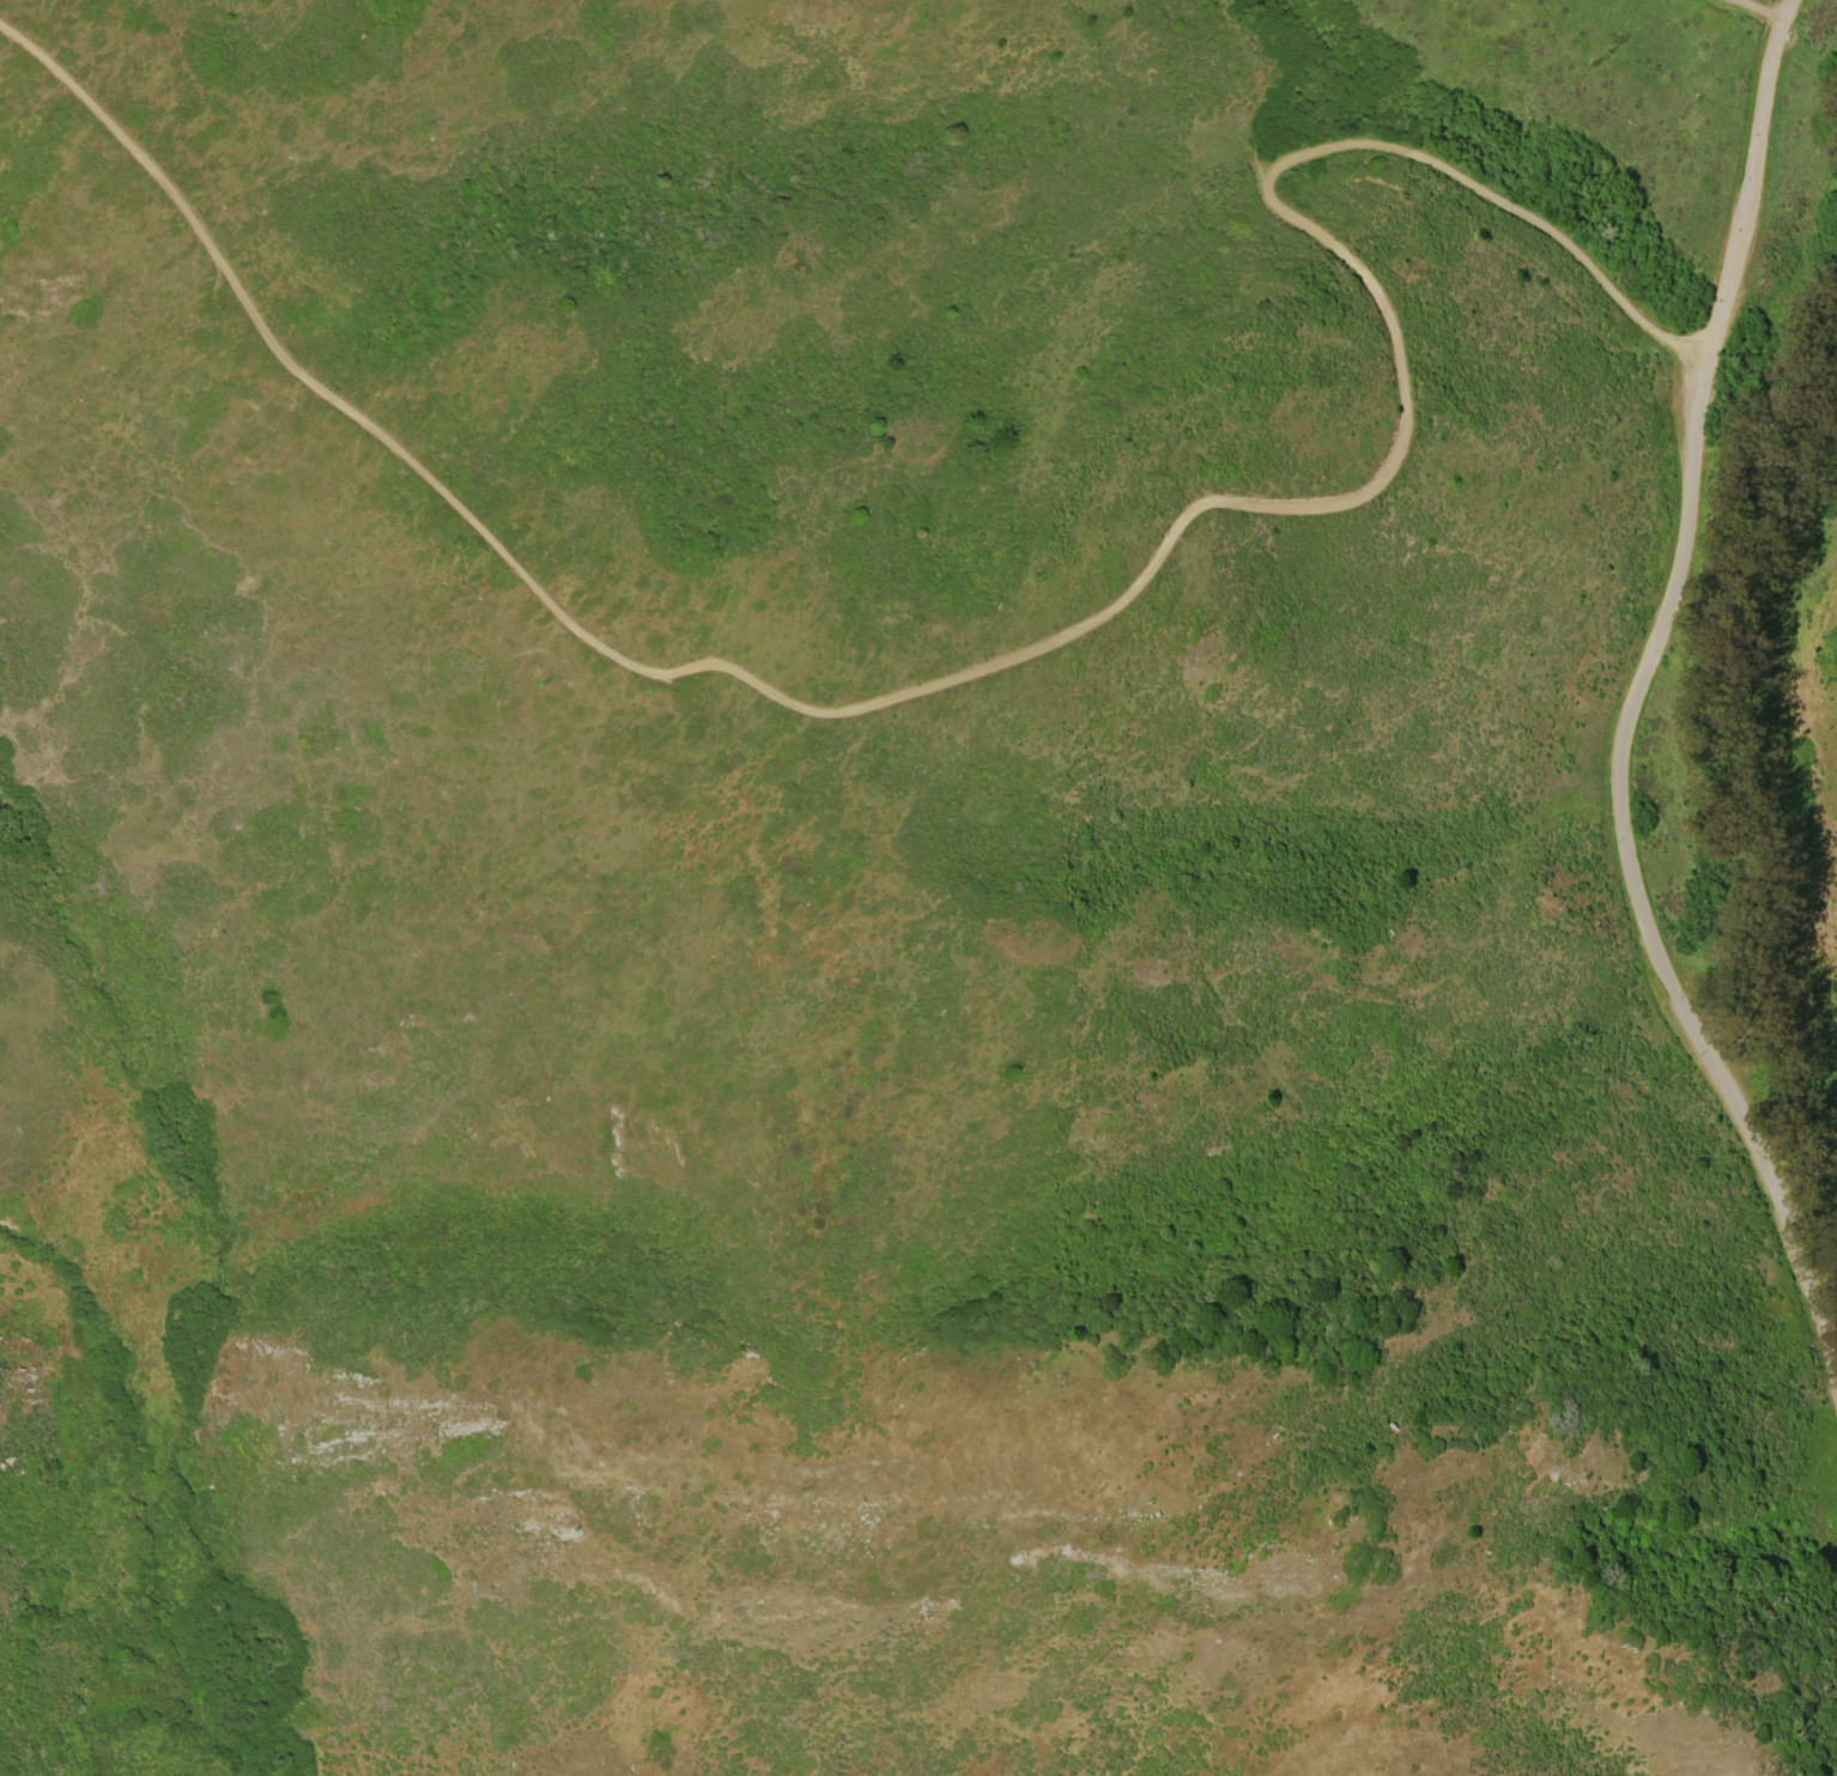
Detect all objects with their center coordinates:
road: (1752, 8)
road: (1750, 186)
road: (1018, 660)
road: (1637, 893)

